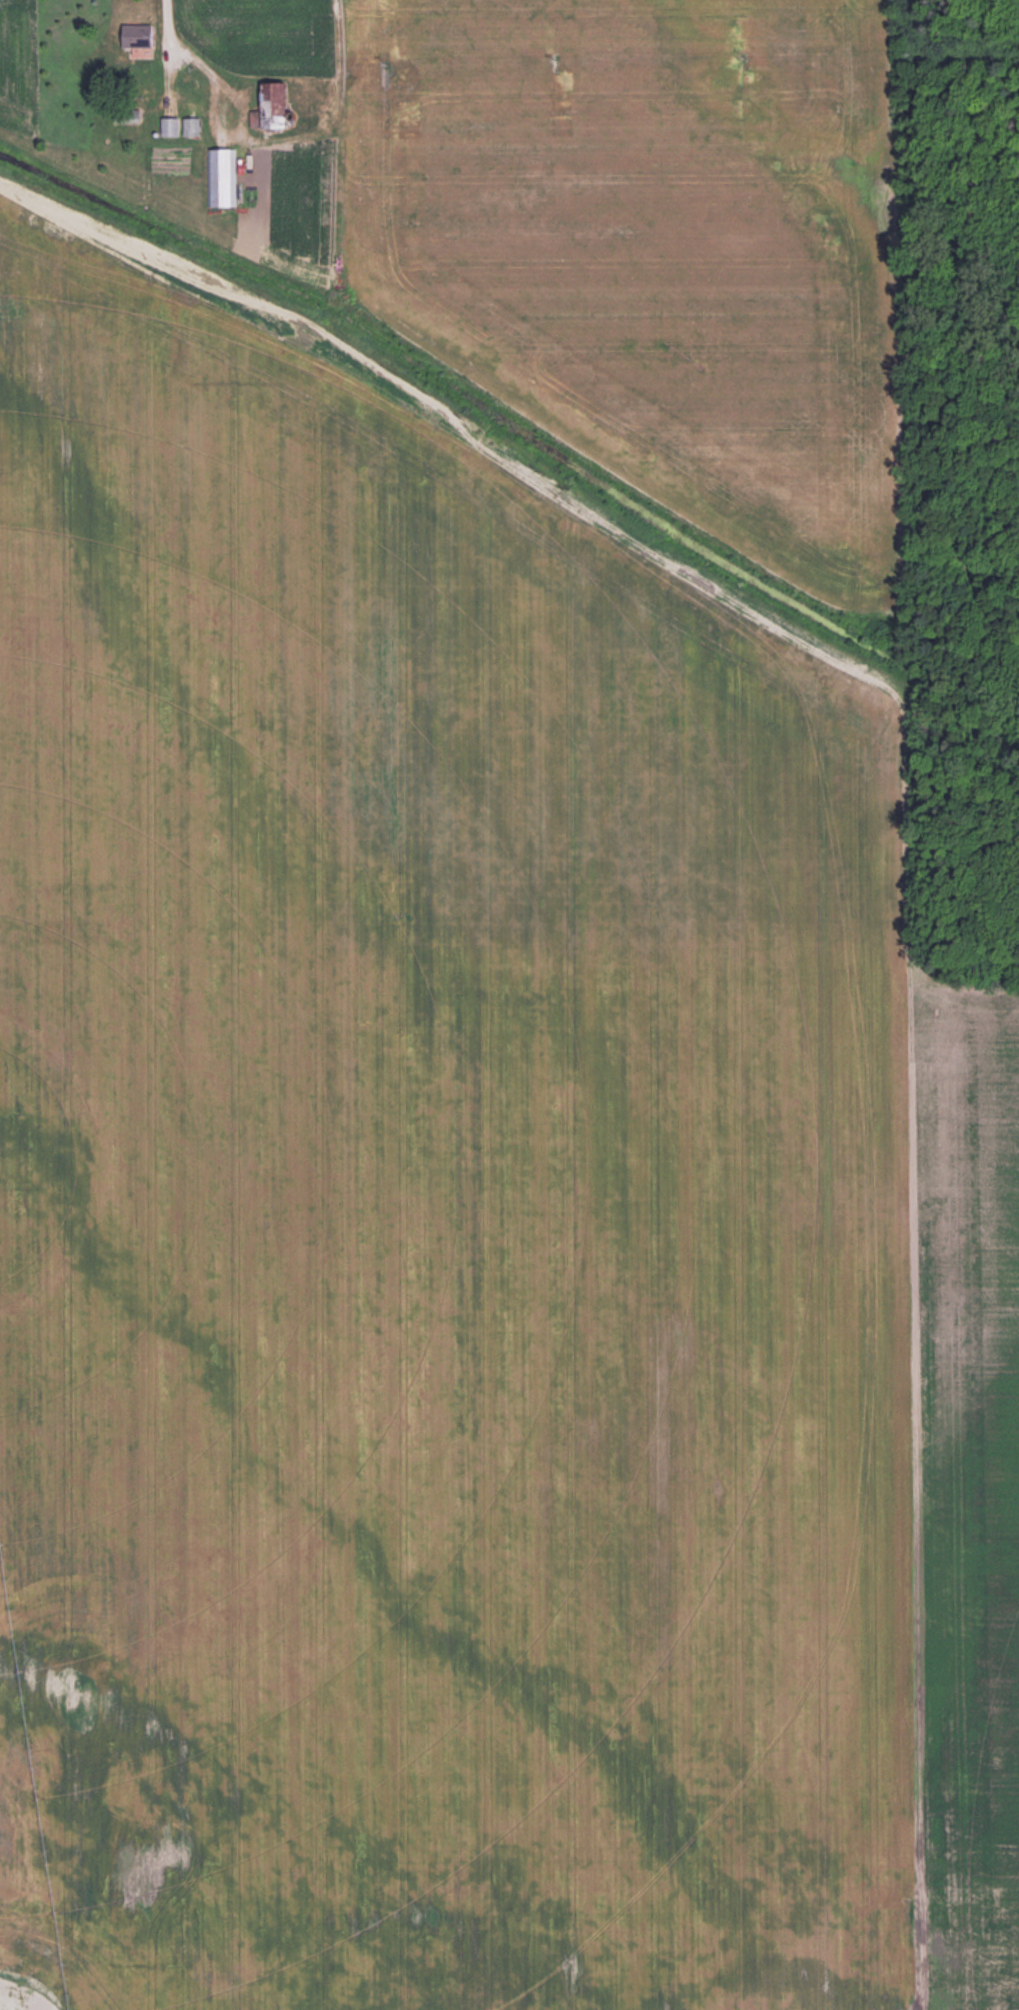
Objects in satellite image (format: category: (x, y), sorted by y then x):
road: (168, 27)
building: (135, 34)
building: (170, 126)
building: (191, 126)
building: (219, 177)

